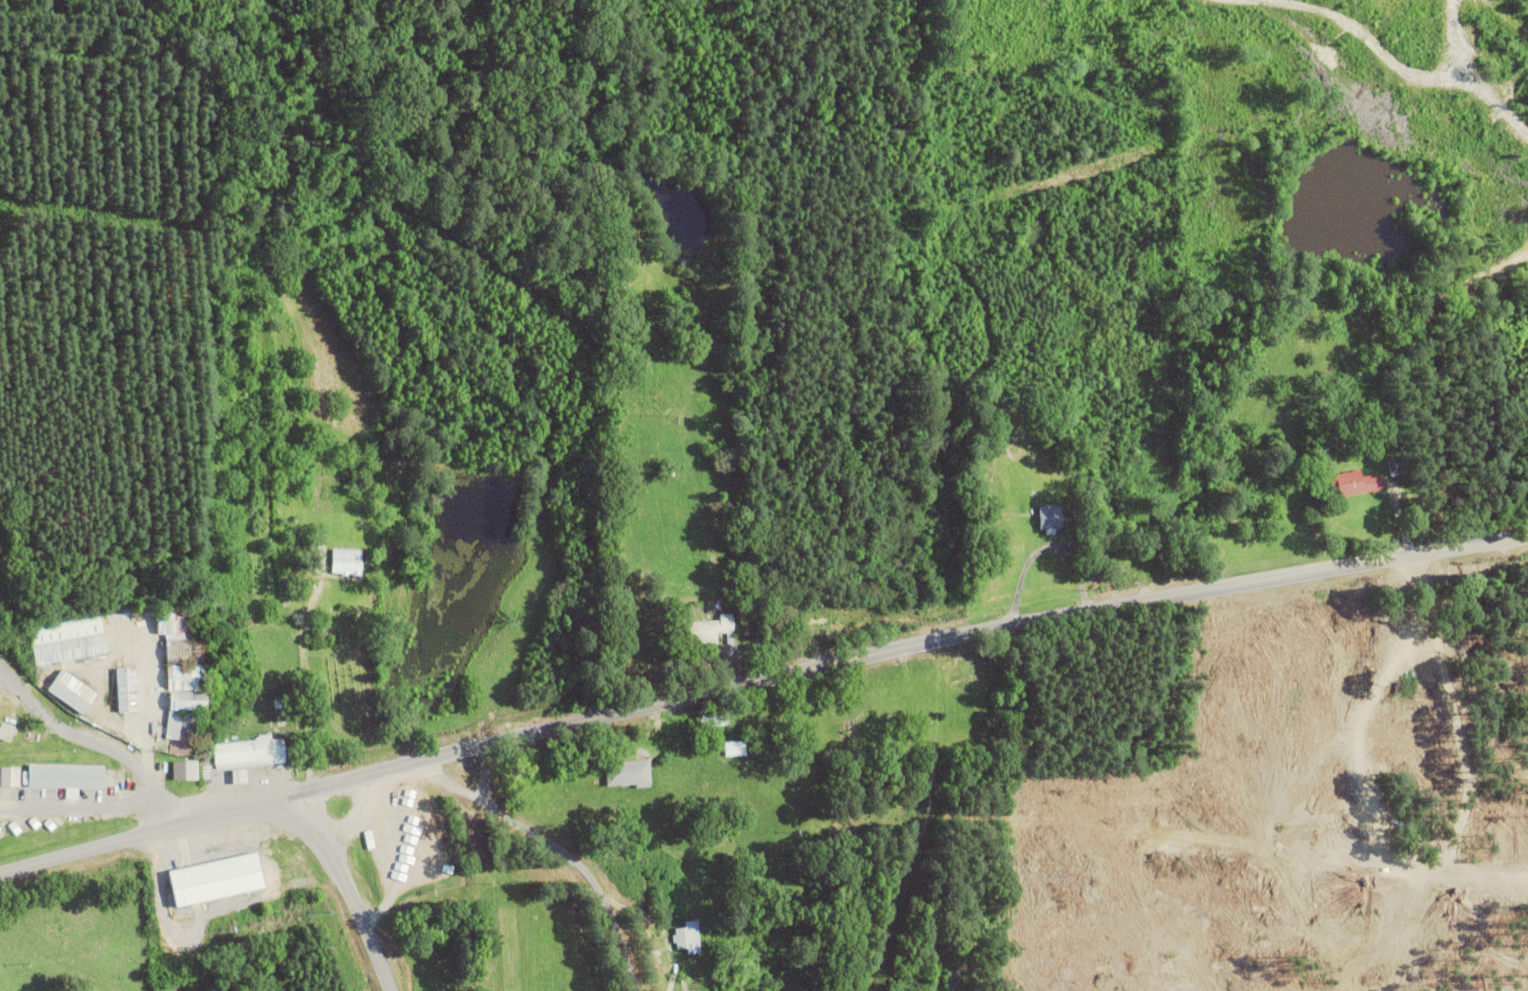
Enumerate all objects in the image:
building: (1358, 483)
building: (1051, 517)
building: (347, 561)
building: (175, 621)
building: (816, 621)
building: (66, 627)
building: (705, 630)
building: (1416, 643)
road: (885, 650)
building: (109, 689)
building: (75, 699)
building: (188, 726)
road: (92, 740)
building: (736, 748)
building: (250, 752)
building: (185, 769)
building: (629, 773)
building: (10, 775)
building: (71, 776)
road: (81, 808)
road: (245, 808)
building: (391, 811)
road: (562, 848)
building: (220, 862)
building: (690, 936)

